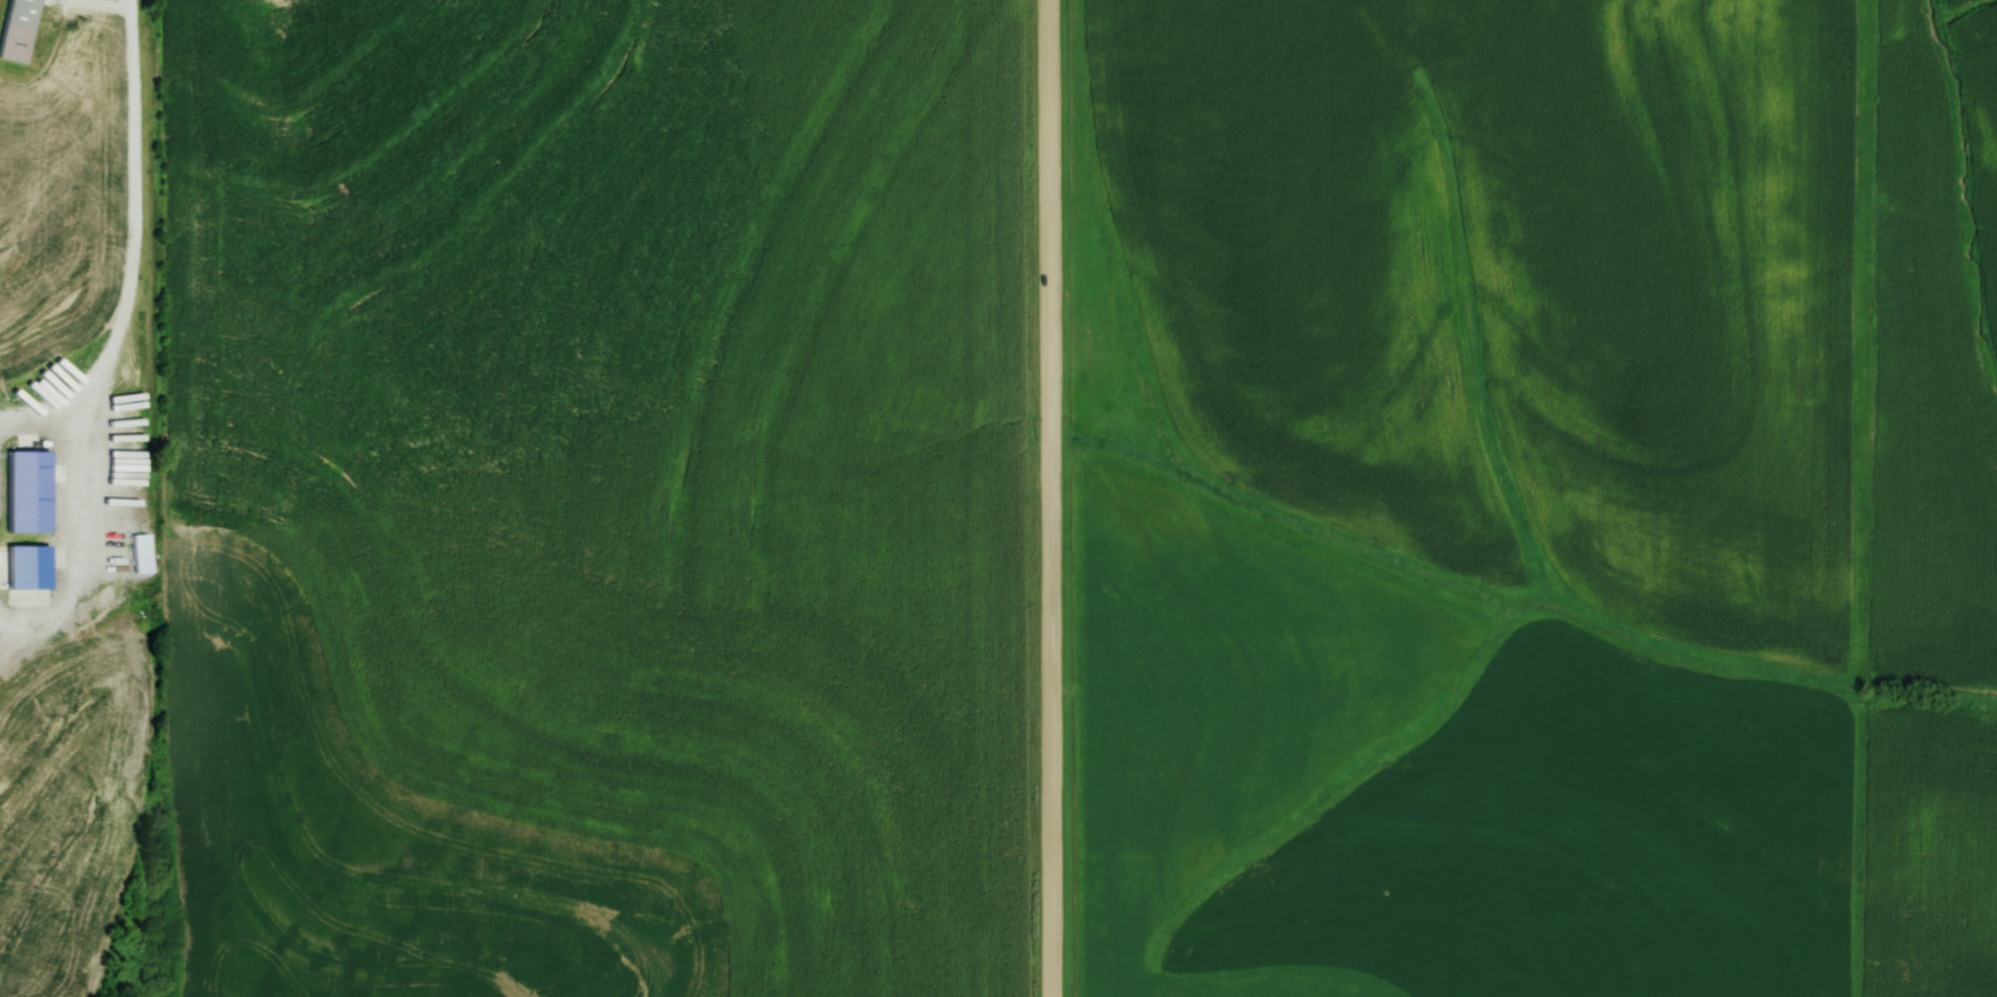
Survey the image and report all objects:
building: (21, 491)
building: (96, 497)
road: (1048, 498)
building: (24, 566)

